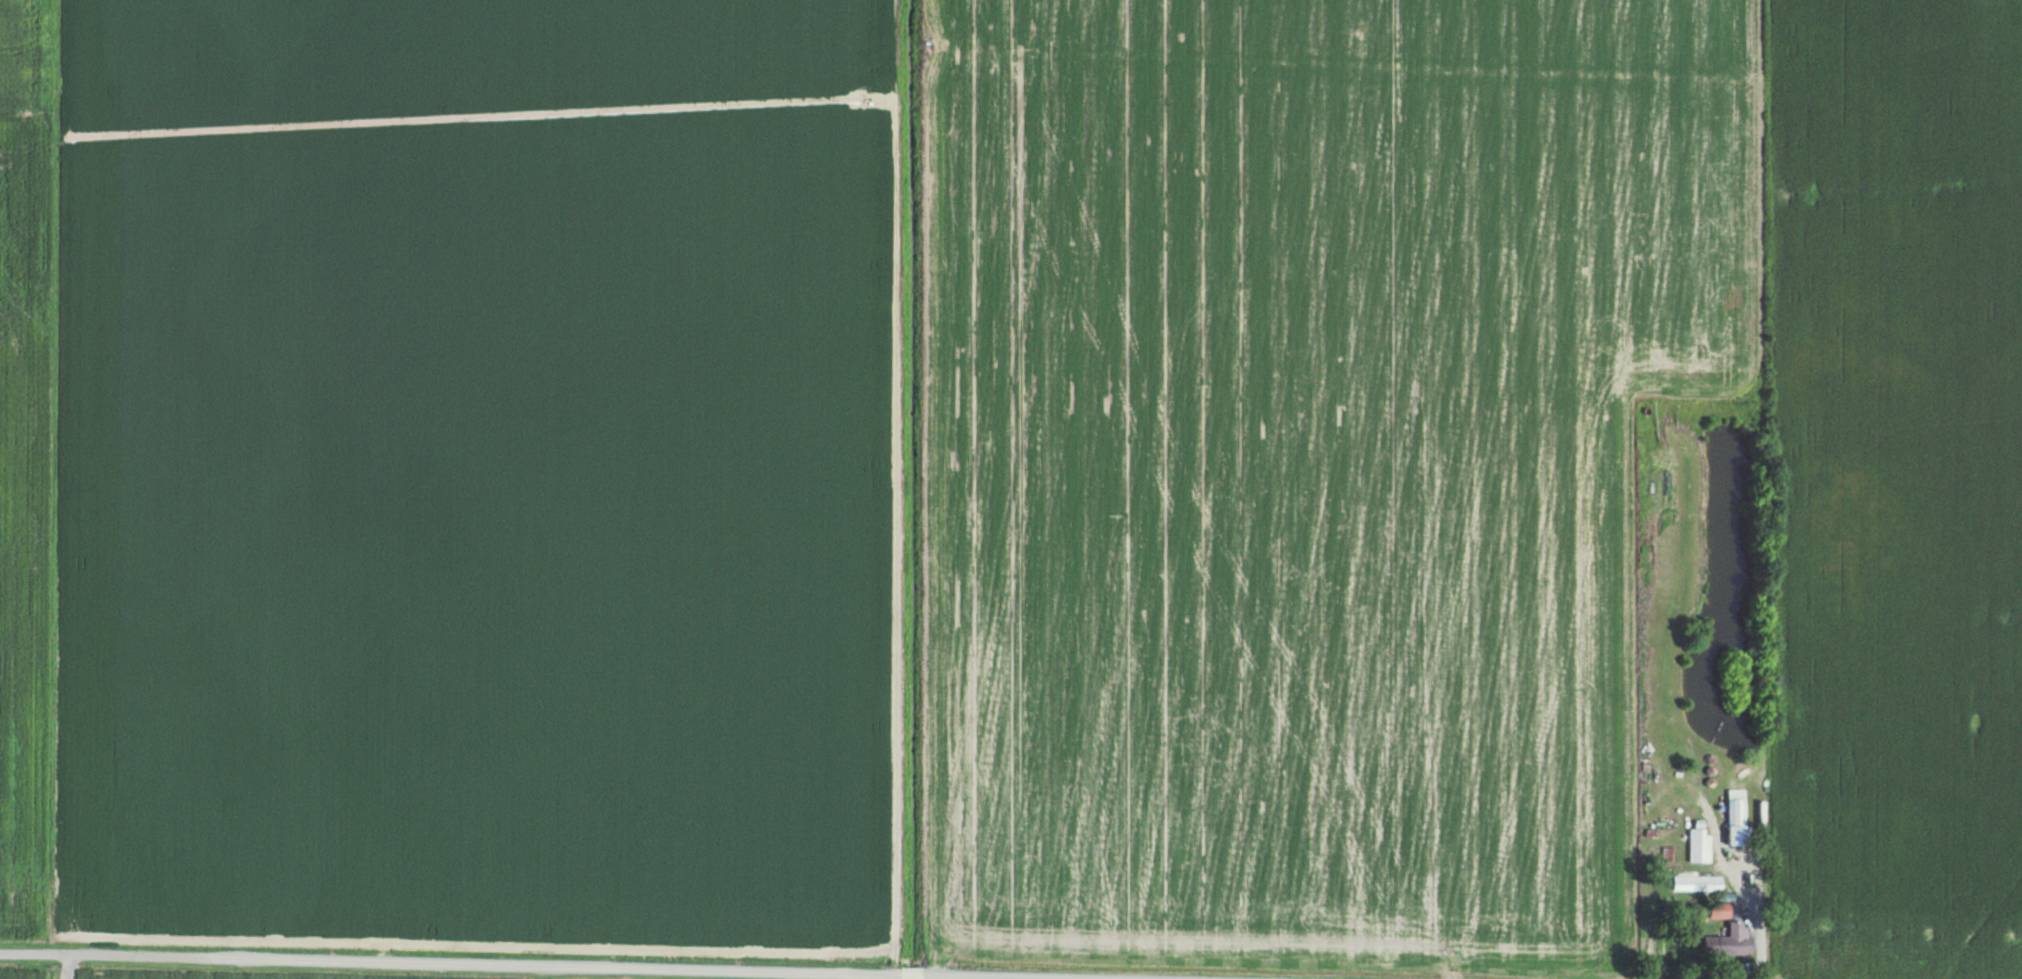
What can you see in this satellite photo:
building: (1737, 816)
building: (1700, 843)
building: (1698, 881)
building: (1720, 909)
building: (1730, 939)
road: (538, 964)
road: (63, 966)

